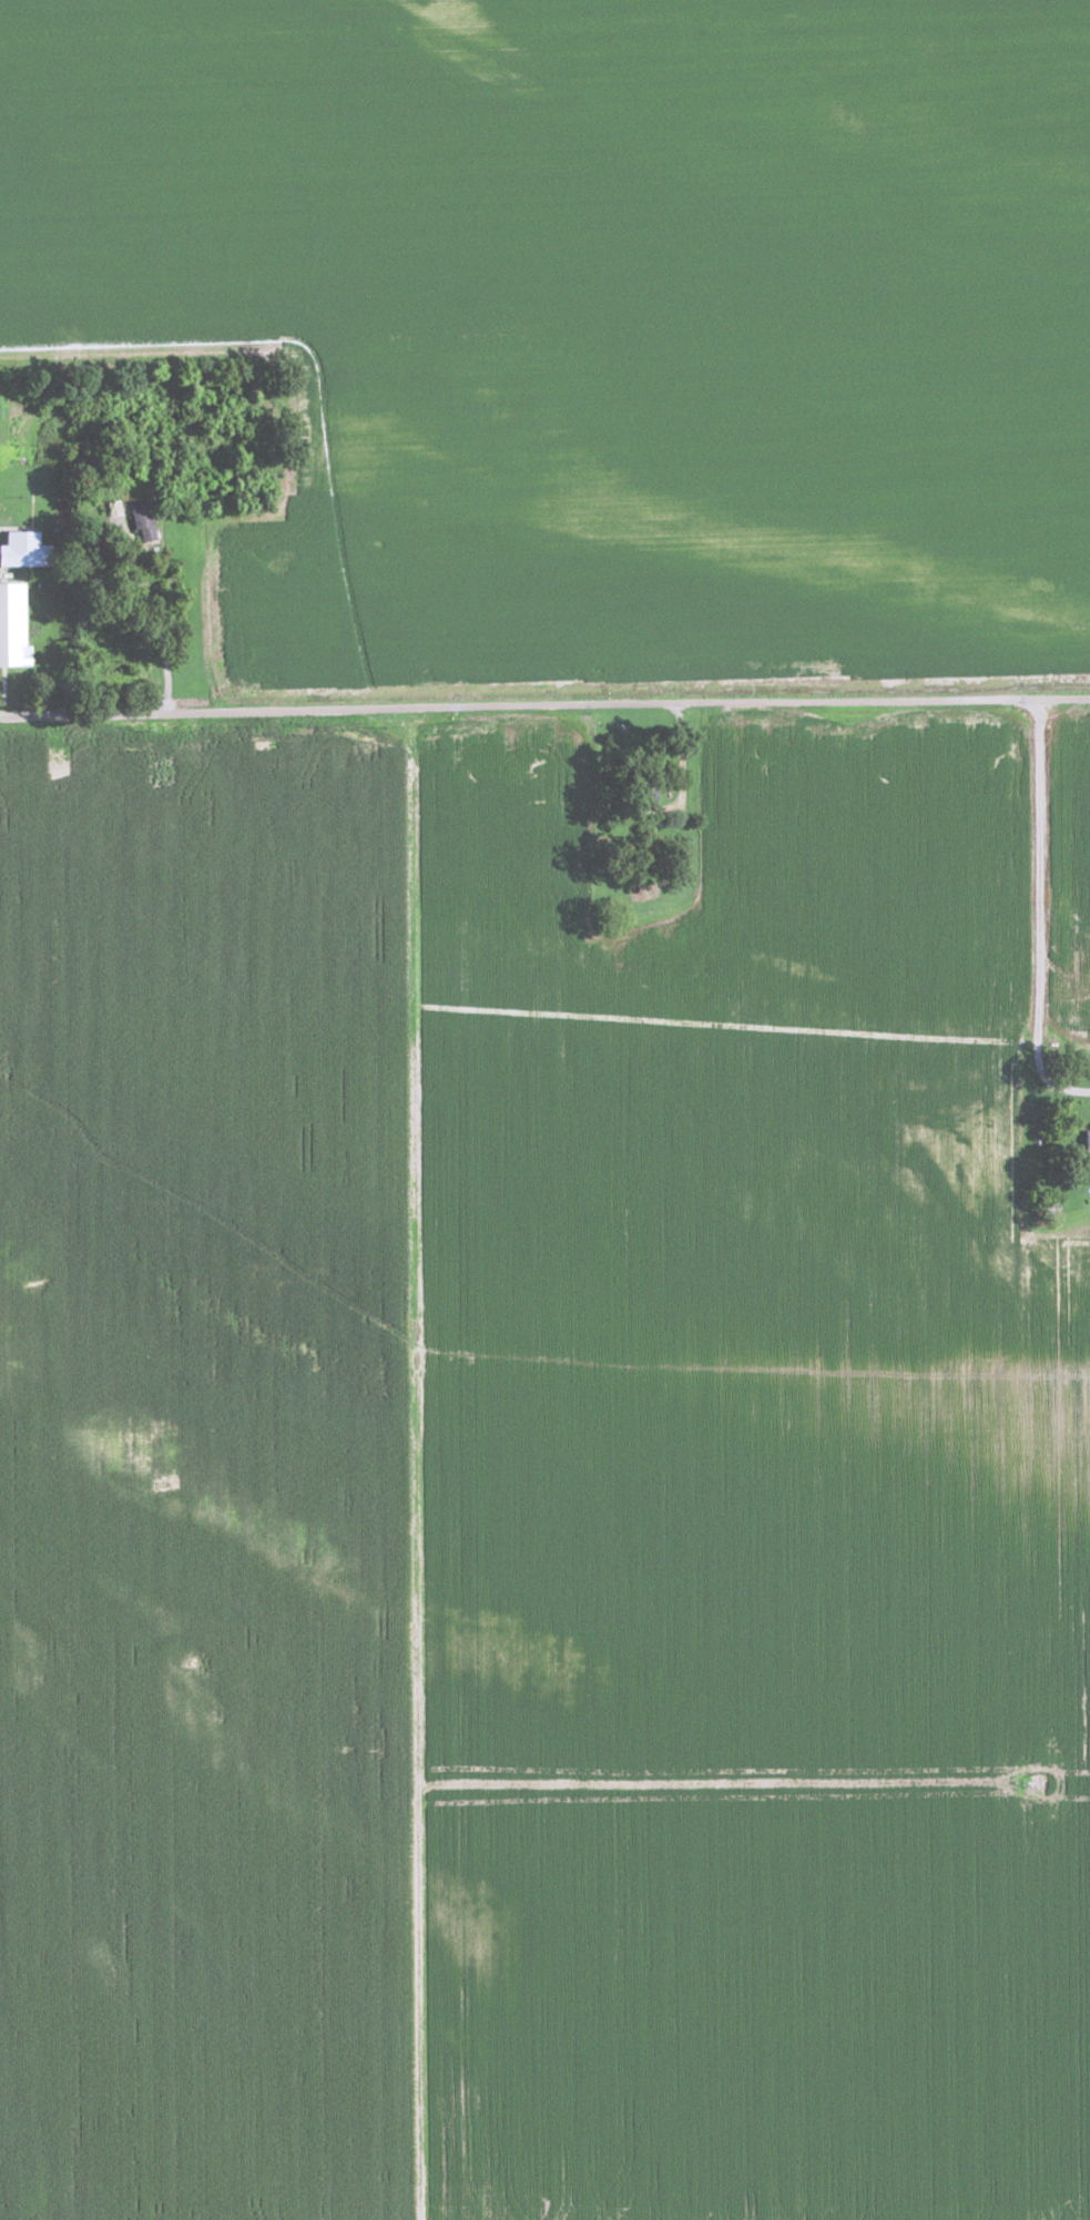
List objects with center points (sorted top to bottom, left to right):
building: (21, 549)
building: (10, 627)
road: (159, 634)
building: (103, 672)
building: (142, 678)
road: (544, 706)
building: (644, 787)
road: (1045, 907)
building: (1086, 1140)

